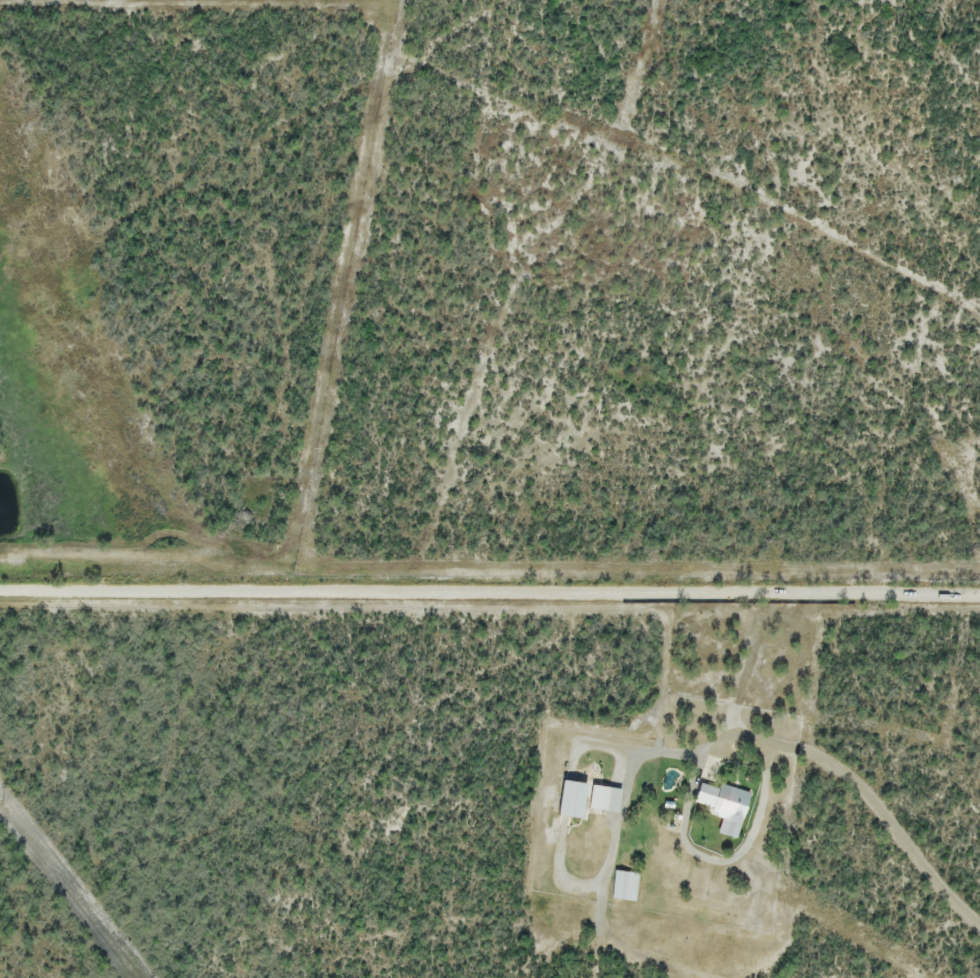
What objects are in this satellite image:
road: (489, 594)
road: (817, 759)
building: (701, 797)
building: (601, 801)
building: (727, 805)
power tower: (6, 806)

